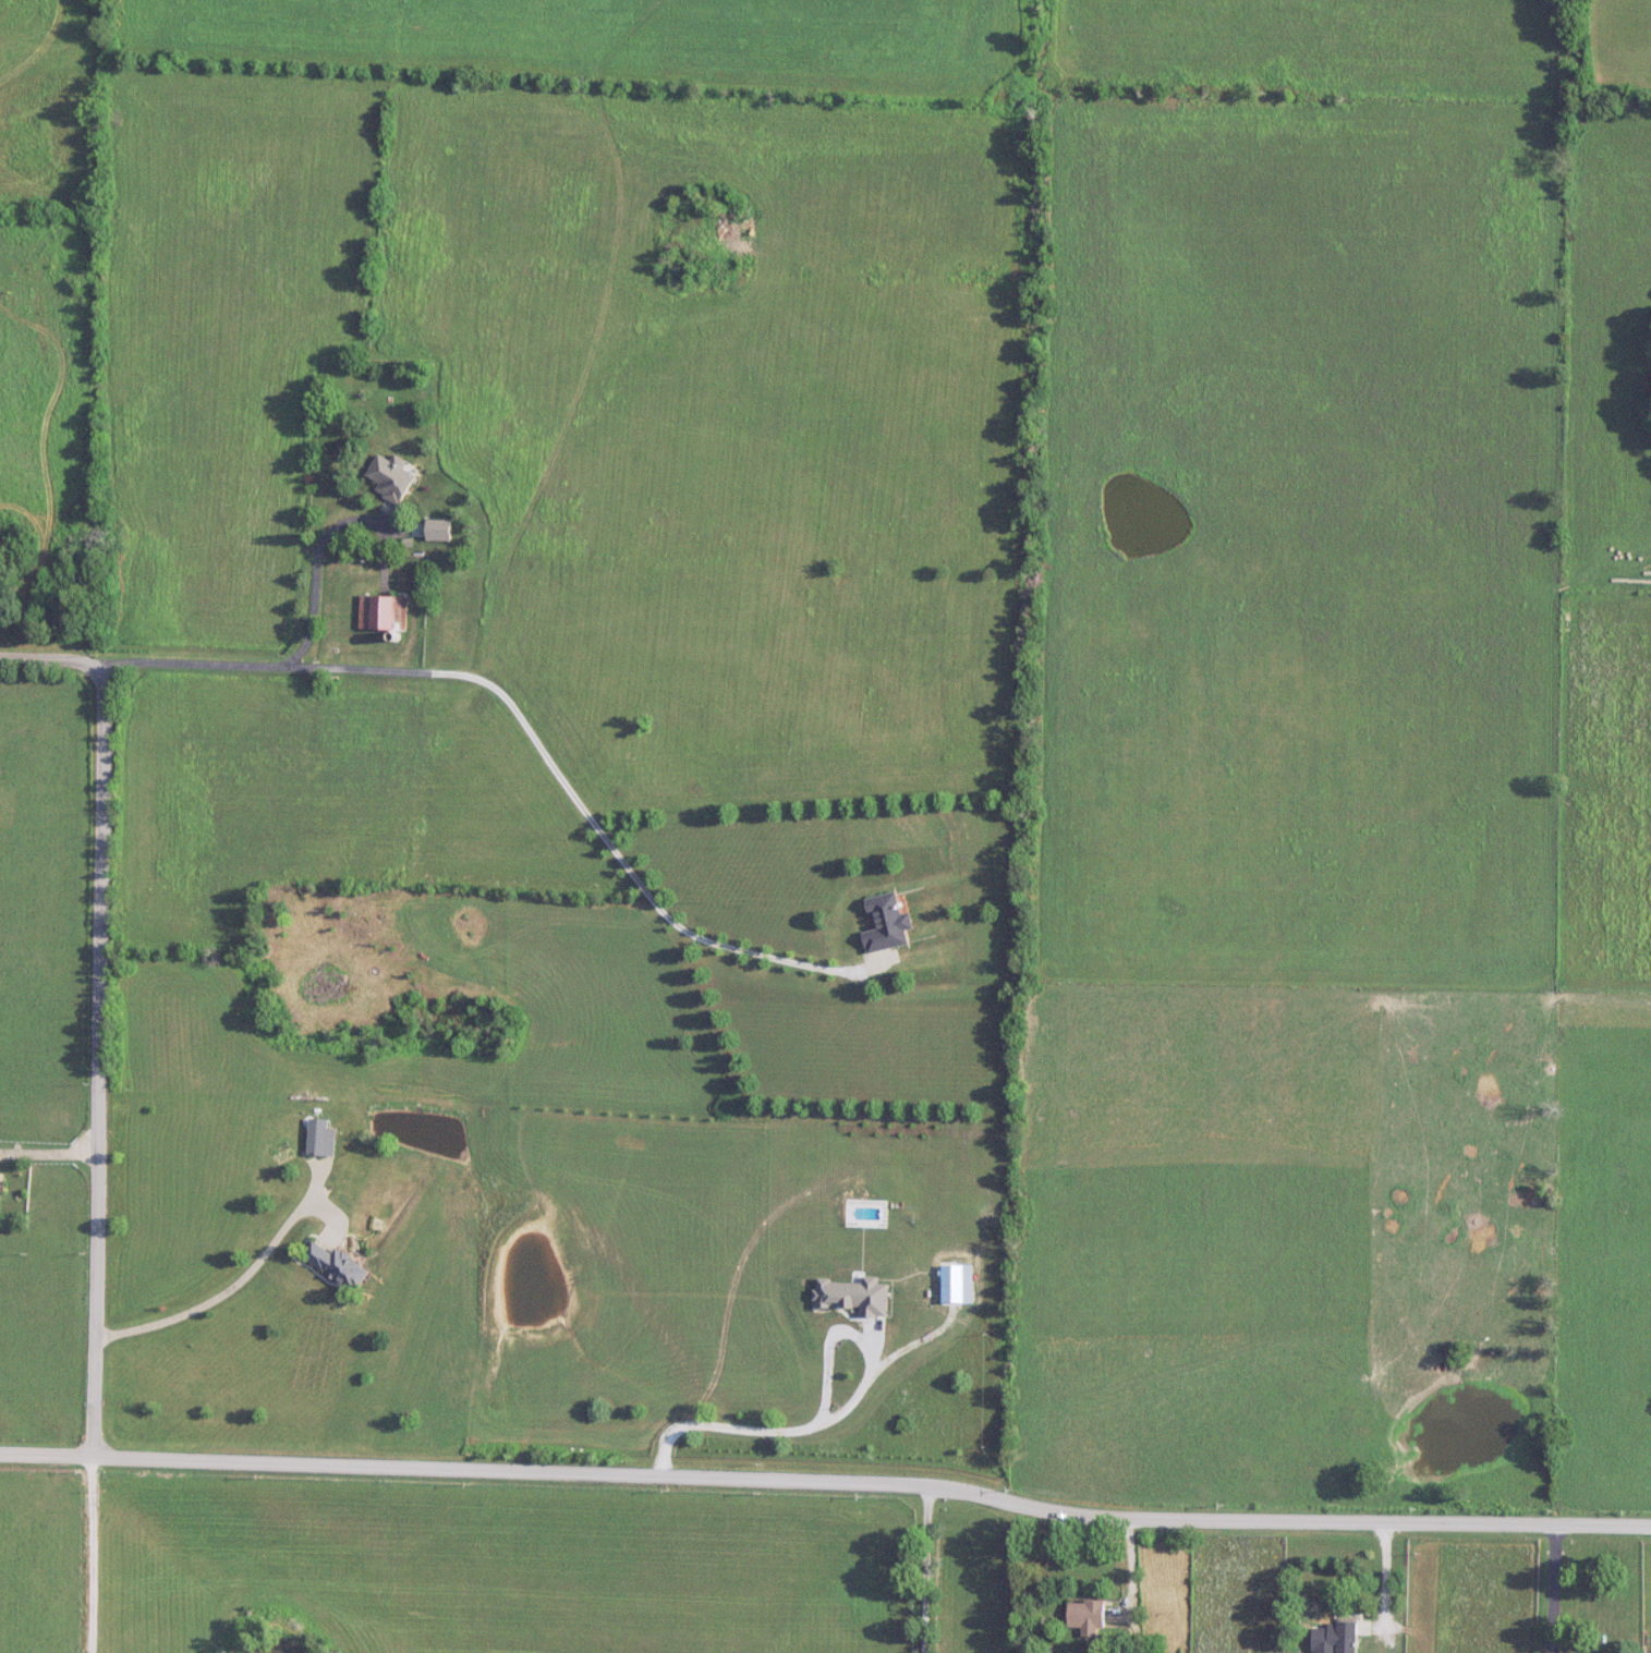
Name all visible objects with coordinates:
building: (392, 477)
building: (440, 531)
road: (312, 568)
building: (384, 613)
road: (60, 663)
road: (517, 715)
building: (889, 924)
road: (99, 1077)
building: (318, 1141)
building: (338, 1265)
road: (228, 1289)
road: (831, 1418)
road: (826, 1485)
road: (94, 1556)
road: (931, 1570)
road: (1386, 1576)
road: (1555, 1590)
building: (1088, 1615)
road: (1415, 1630)
building: (1337, 1639)

